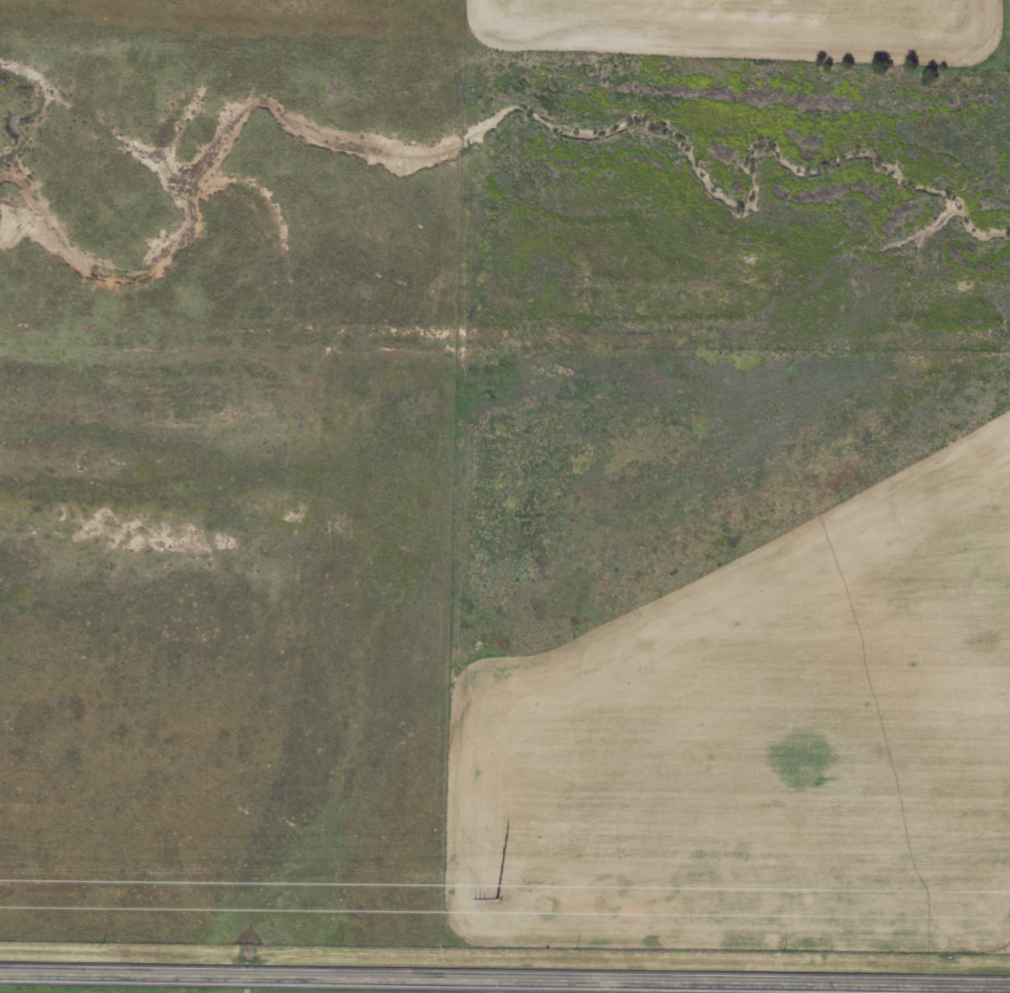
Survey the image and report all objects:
power tower: (496, 899)
road: (505, 981)

